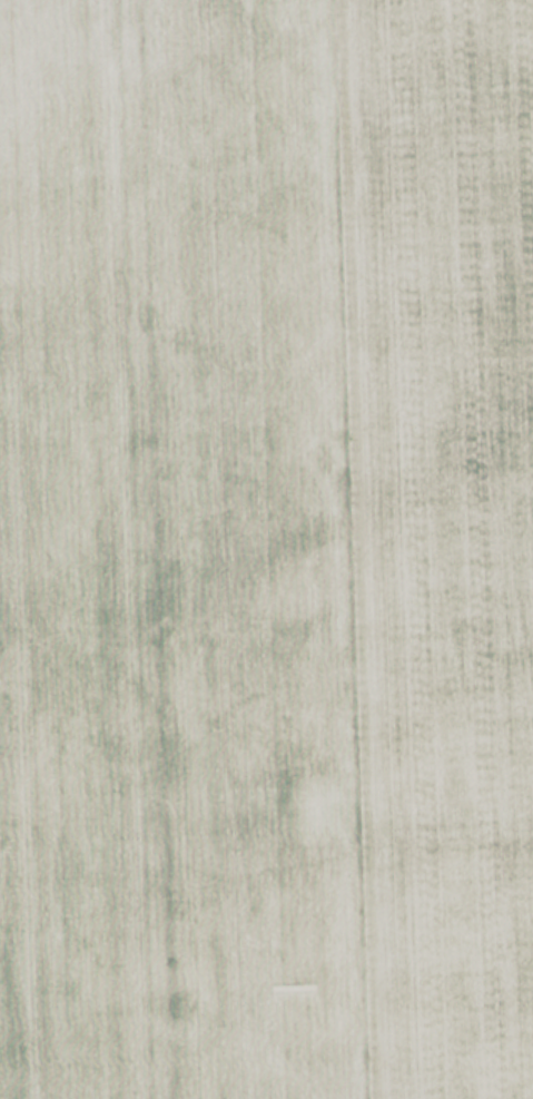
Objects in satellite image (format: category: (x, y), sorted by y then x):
crop: (266, 549)

